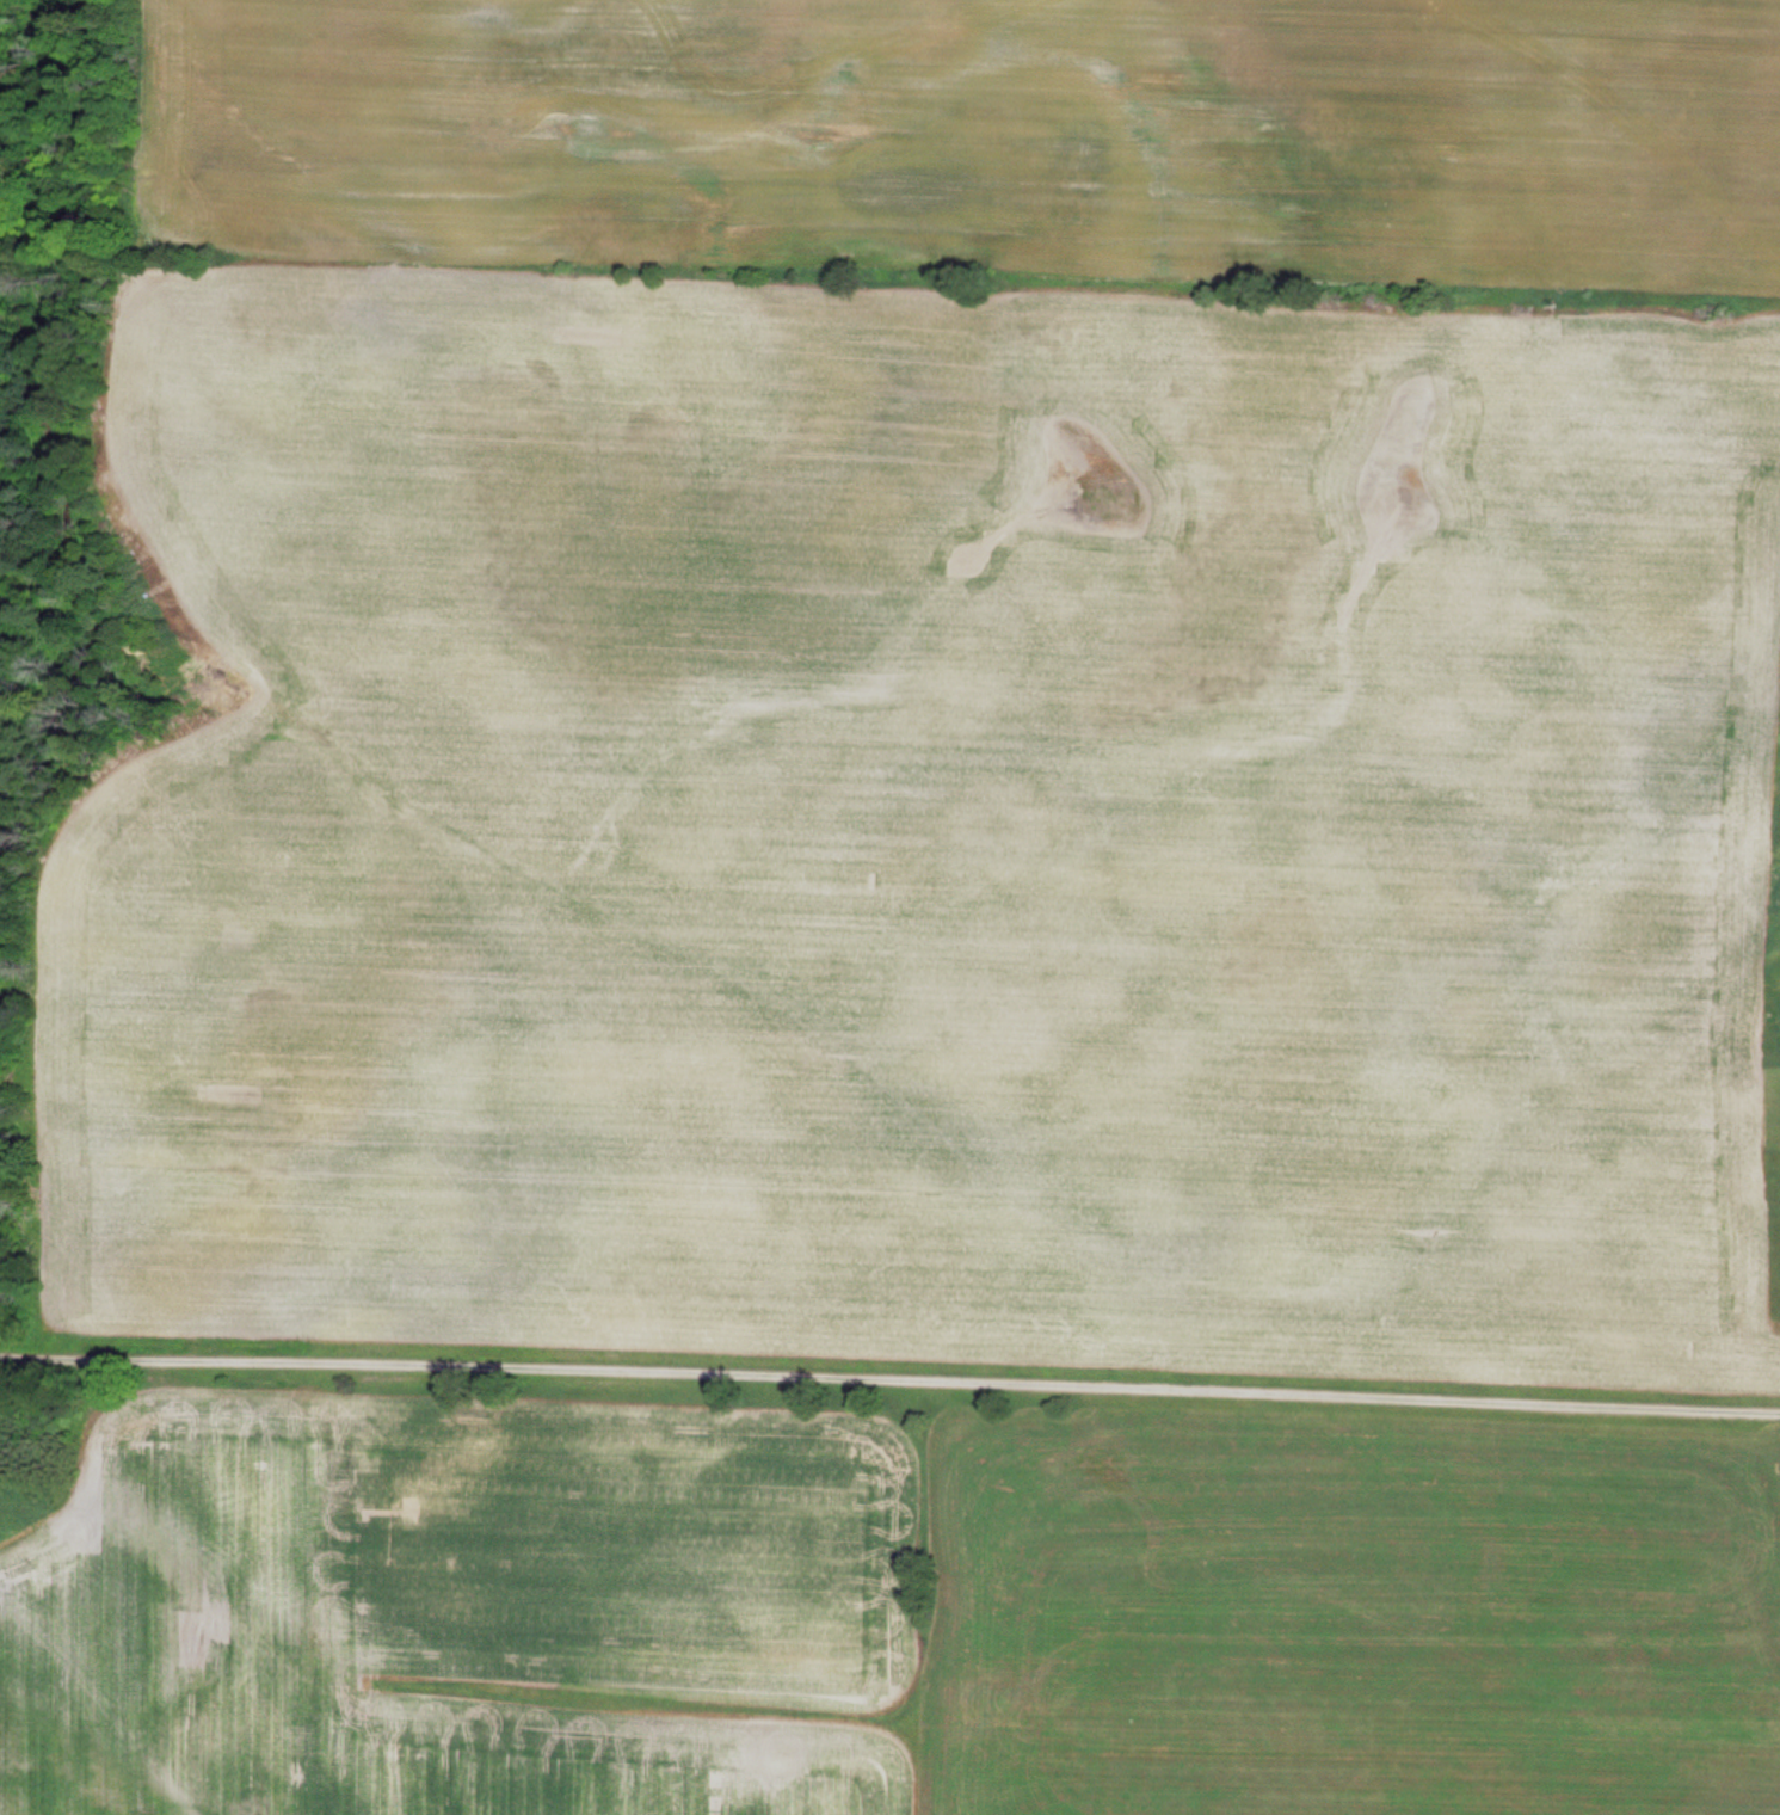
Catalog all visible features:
road: (889, 1380)

